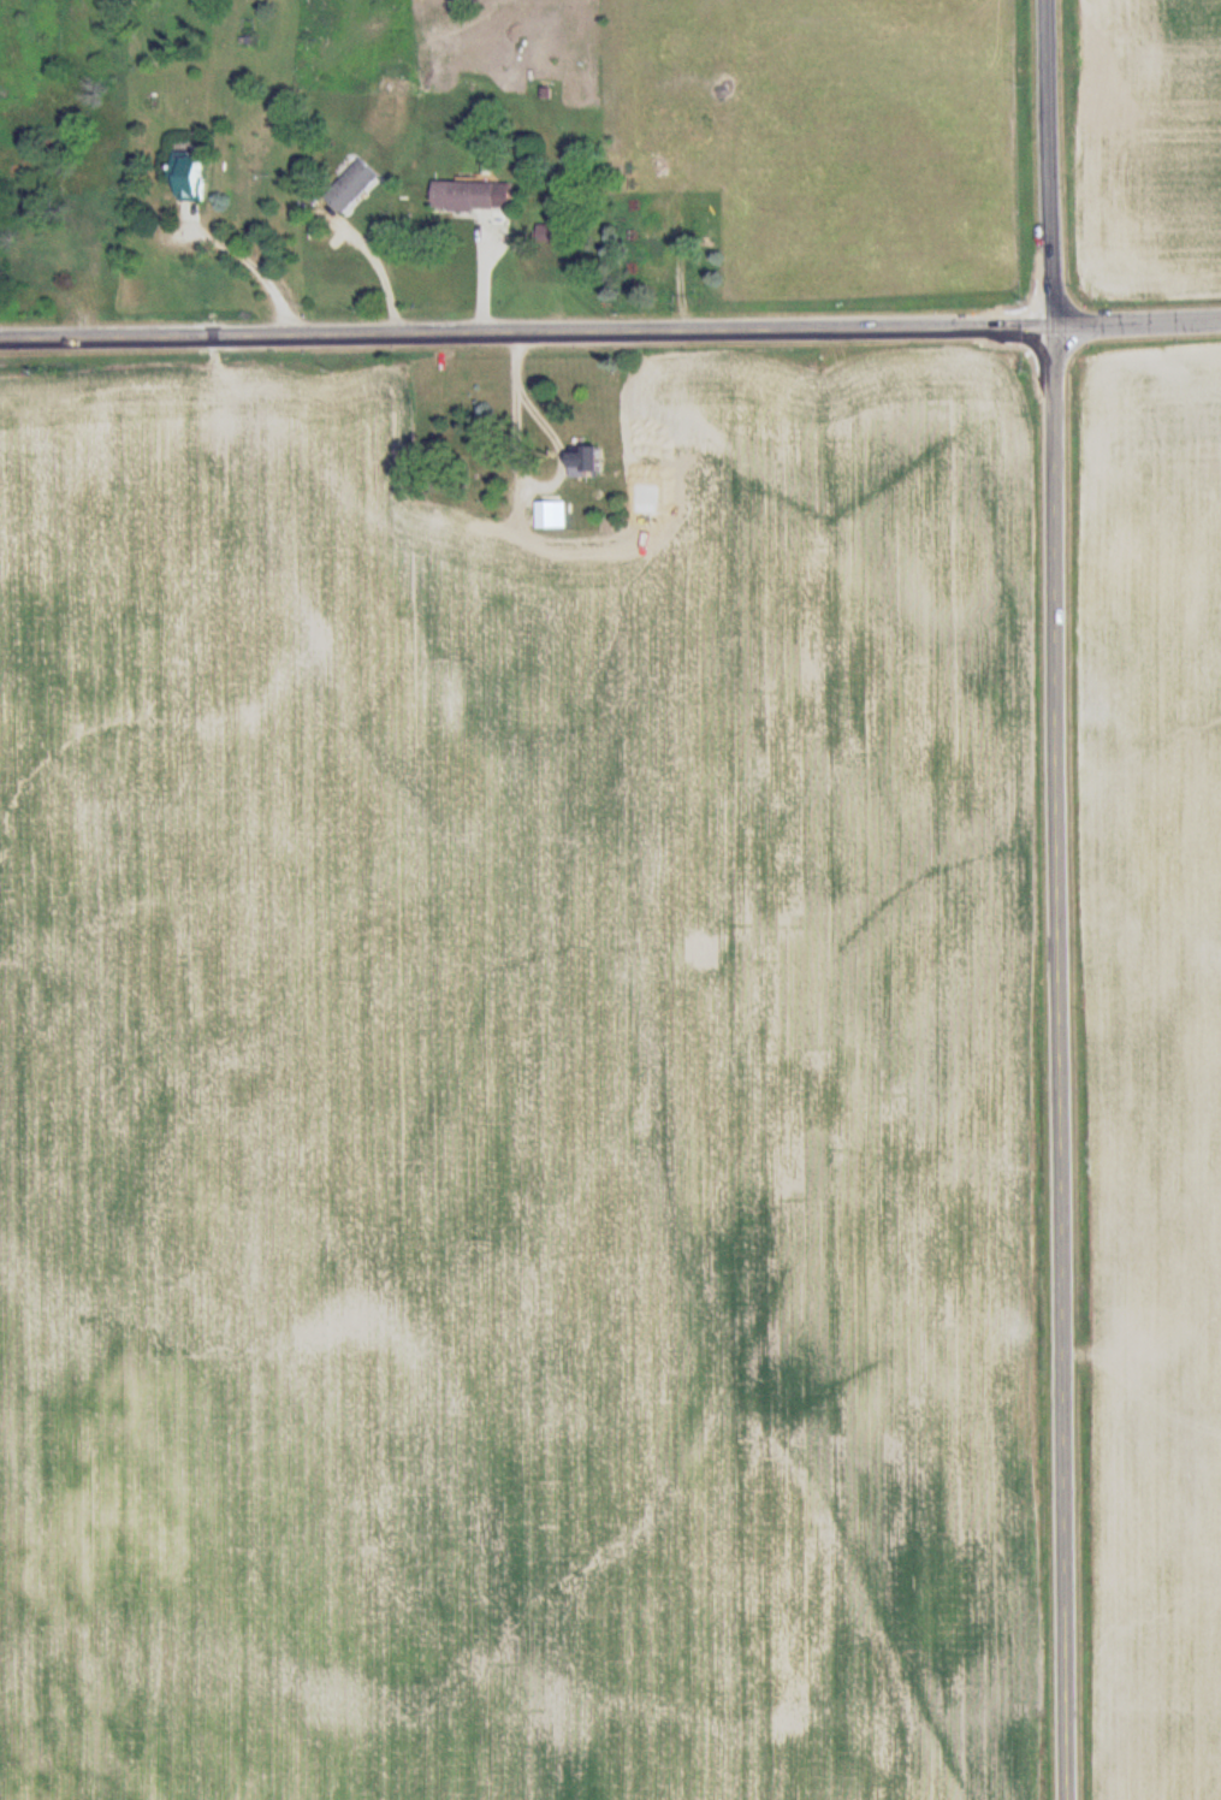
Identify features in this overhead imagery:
building: (189, 177)
building: (351, 185)
building: (463, 195)
road: (1137, 319)
road: (527, 331)
building: (582, 462)
building: (547, 515)
road: (1059, 899)

